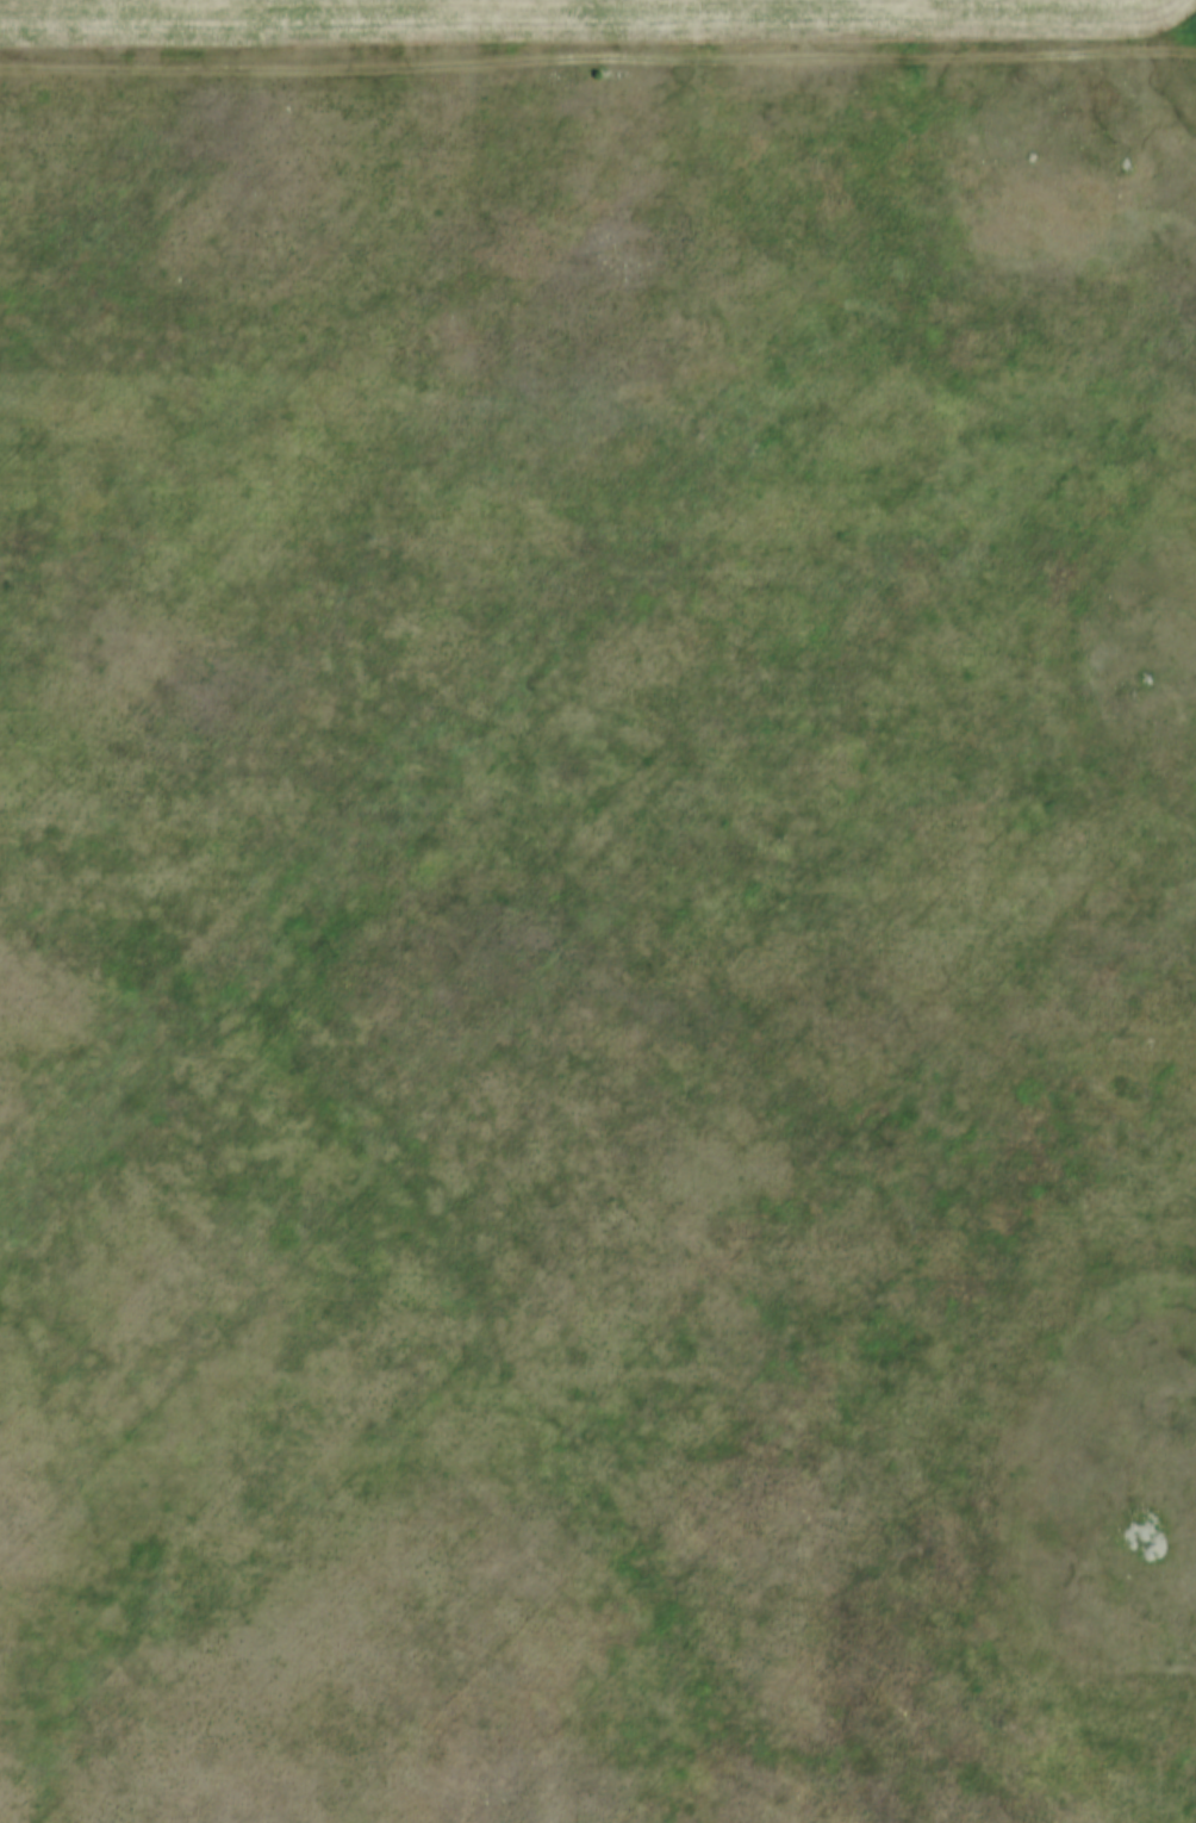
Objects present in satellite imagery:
road: (598, 82)

